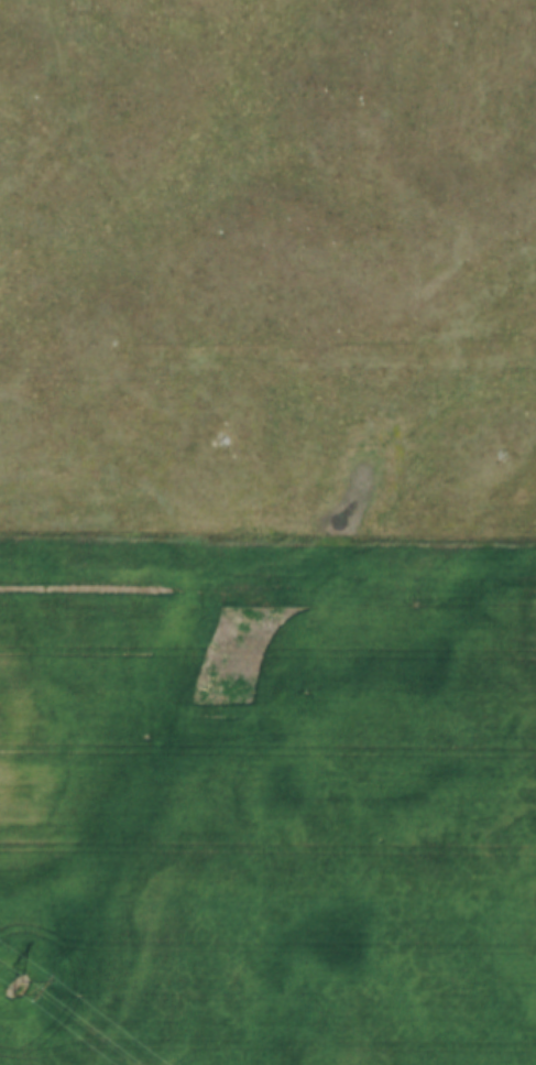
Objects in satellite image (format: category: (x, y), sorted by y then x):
power tower: (19, 987)

